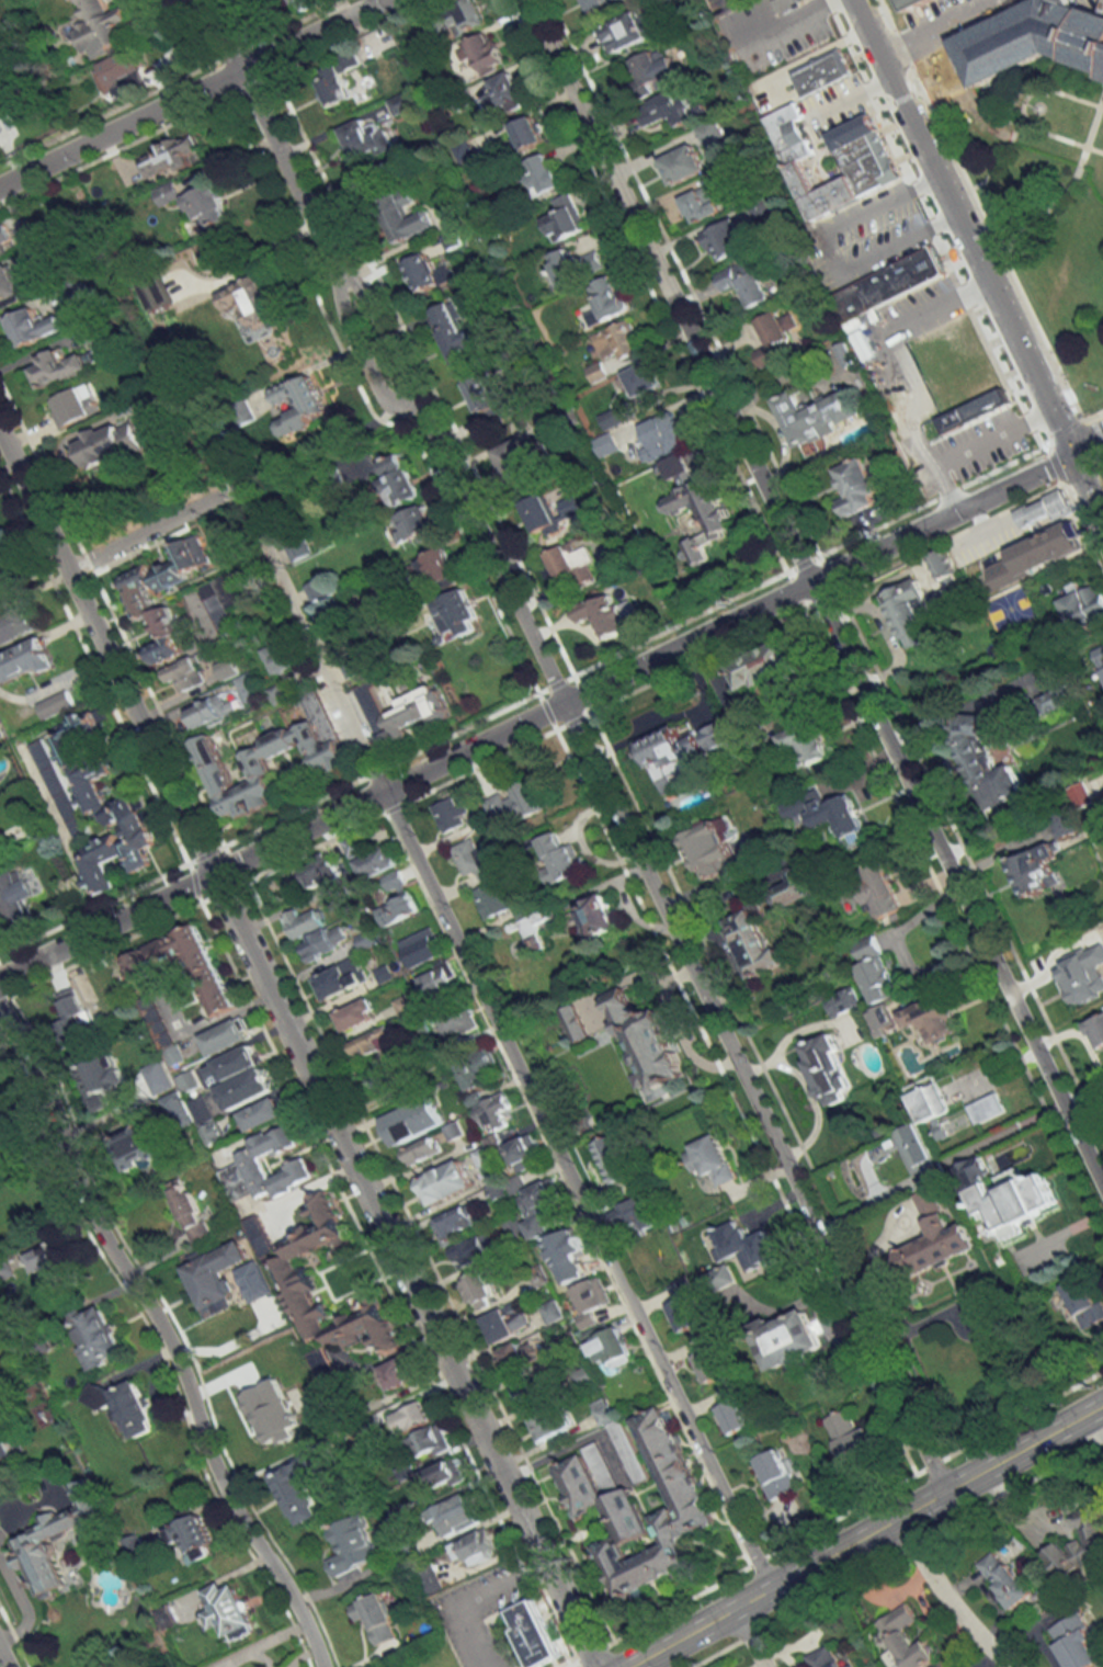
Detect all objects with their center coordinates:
building: (1066, 0)
building: (911, 2)
building: (302, 4)
building: (598, 4)
building: (785, 4)
building: (469, 13)
road: (769, 16)
road: (796, 24)
road: (932, 26)
building: (101, 27)
building: (629, 30)
building: (1033, 36)
building: (486, 52)
road: (816, 54)
building: (650, 70)
building: (820, 72)
building: (120, 73)
building: (336, 78)
road: (192, 92)
building: (504, 94)
road: (849, 100)
building: (402, 102)
building: (674, 107)
building: (527, 133)
building: (709, 133)
building: (365, 139)
building: (170, 156)
building: (683, 163)
building: (869, 168)
building: (542, 173)
building: (432, 188)
building: (167, 194)
building: (700, 204)
building: (206, 206)
road: (975, 209)
building: (403, 217)
building: (564, 218)
building: (3, 237)
building: (452, 240)
building: (724, 240)
road: (832, 245)
road: (978, 261)
building: (575, 265)
building: (428, 273)
building: (13, 282)
building: (750, 283)
building: (886, 286)
building: (606, 299)
building: (253, 302)
building: (32, 326)
building: (454, 331)
building: (774, 339)
building: (619, 340)
building: (846, 354)
building: (57, 367)
road: (906, 367)
building: (643, 379)
building: (958, 384)
building: (485, 398)
building: (298, 405)
building: (73, 406)
road: (1092, 411)
building: (817, 416)
road: (1094, 427)
building: (663, 435)
road: (1085, 440)
building: (109, 442)
road: (1100, 457)
building: (515, 463)
building: (398, 480)
building: (855, 487)
building: (695, 504)
building: (570, 506)
building: (1044, 510)
building: (542, 517)
building: (412, 525)
road: (138, 535)
building: (297, 546)
building: (1038, 553)
building: (571, 563)
building: (436, 570)
building: (4, 583)
building: (317, 590)
road: (814, 594)
building: (139, 598)
building: (220, 602)
building: (923, 602)
building: (1082, 604)
building: (457, 612)
building: (605, 614)
building: (16, 625)
road: (305, 634)
building: (344, 649)
building: (278, 657)
building: (24, 661)
building: (1101, 662)
building: (764, 666)
building: (228, 668)
building: (184, 674)
building: (250, 685)
building: (278, 693)
building: (1057, 699)
building: (55, 704)
building: (211, 711)
building: (401, 713)
road: (535, 716)
building: (728, 730)
road: (580, 740)
building: (806, 742)
building: (671, 756)
building: (330, 757)
building: (985, 763)
building: (58, 785)
building: (101, 801)
building: (513, 803)
building: (451, 813)
building: (829, 815)
building: (1067, 823)
building: (1, 838)
building: (353, 847)
building: (710, 849)
building: (471, 858)
building: (559, 859)
building: (376, 863)
building: (1036, 870)
building: (318, 872)
building: (787, 891)
building: (878, 891)
building: (15, 896)
building: (491, 899)
building: (397, 901)
building: (595, 916)
building: (303, 922)
building: (537, 928)
building: (366, 939)
building: (325, 942)
building: (753, 942)
building: (515, 945)
building: (421, 948)
building: (173, 955)
building: (874, 971)
building: (1082, 973)
building: (340, 979)
building: (439, 980)
building: (219, 999)
building: (844, 1001)
building: (403, 1005)
building: (73, 1012)
building: (355, 1014)
building: (931, 1018)
building: (883, 1021)
building: (457, 1022)
building: (573, 1023)
building: (1095, 1032)
building: (225, 1036)
building: (371, 1042)
building: (647, 1045)
road: (298, 1051)
building: (234, 1064)
building: (477, 1067)
building: (827, 1070)
building: (387, 1077)
building: (98, 1081)
building: (246, 1089)
building: (986, 1109)
building: (493, 1112)
building: (262, 1114)
building: (183, 1115)
building: (205, 1120)
building: (413, 1121)
building: (946, 1129)
building: (7, 1133)
building: (139, 1145)
building: (421, 1150)
building: (523, 1152)
building: (613, 1157)
building: (712, 1159)
building: (486, 1165)
building: (248, 1166)
building: (445, 1182)
building: (505, 1188)
road: (576, 1189)
building: (1005, 1194)
road: (868, 1199)
building: (538, 1206)
building: (190, 1213)
building: (633, 1215)
building: (457, 1222)
building: (513, 1226)
building: (260, 1236)
building: (937, 1236)
building: (570, 1244)
building: (744, 1245)
building: (473, 1249)
building: (48, 1262)
building: (216, 1278)
building: (297, 1278)
building: (721, 1279)
building: (478, 1291)
building: (592, 1300)
building: (1084, 1301)
road: (958, 1305)
building: (551, 1311)
building: (684, 1314)
building: (507, 1322)
road: (163, 1336)
building: (98, 1337)
building: (792, 1339)
building: (613, 1348)
building: (520, 1356)
building: (708, 1365)
building: (325, 1370)
building: (397, 1373)
building: (583, 1375)
building: (531, 1391)
building: (126, 1406)
building: (603, 1411)
building: (732, 1411)
building: (411, 1418)
building: (548, 1426)
building: (849, 1436)
building: (429, 1442)
building: (4, 1447)
building: (626, 1451)
road: (1083, 1460)
building: (776, 1474)
building: (443, 1476)
building: (302, 1487)
building: (603, 1500)
building: (455, 1516)
building: (190, 1533)
road: (862, 1534)
building: (33, 1541)
building: (1080, 1543)
building: (353, 1544)
building: (477, 1546)
building: (430, 1579)
building: (1004, 1579)
road: (945, 1596)
road: (478, 1598)
building: (229, 1610)
building: (376, 1617)
building: (533, 1634)
road: (751, 1635)
building: (906, 1637)
building: (1076, 1643)
road: (725, 1652)
building: (825, 1657)
road: (2, 1660)

